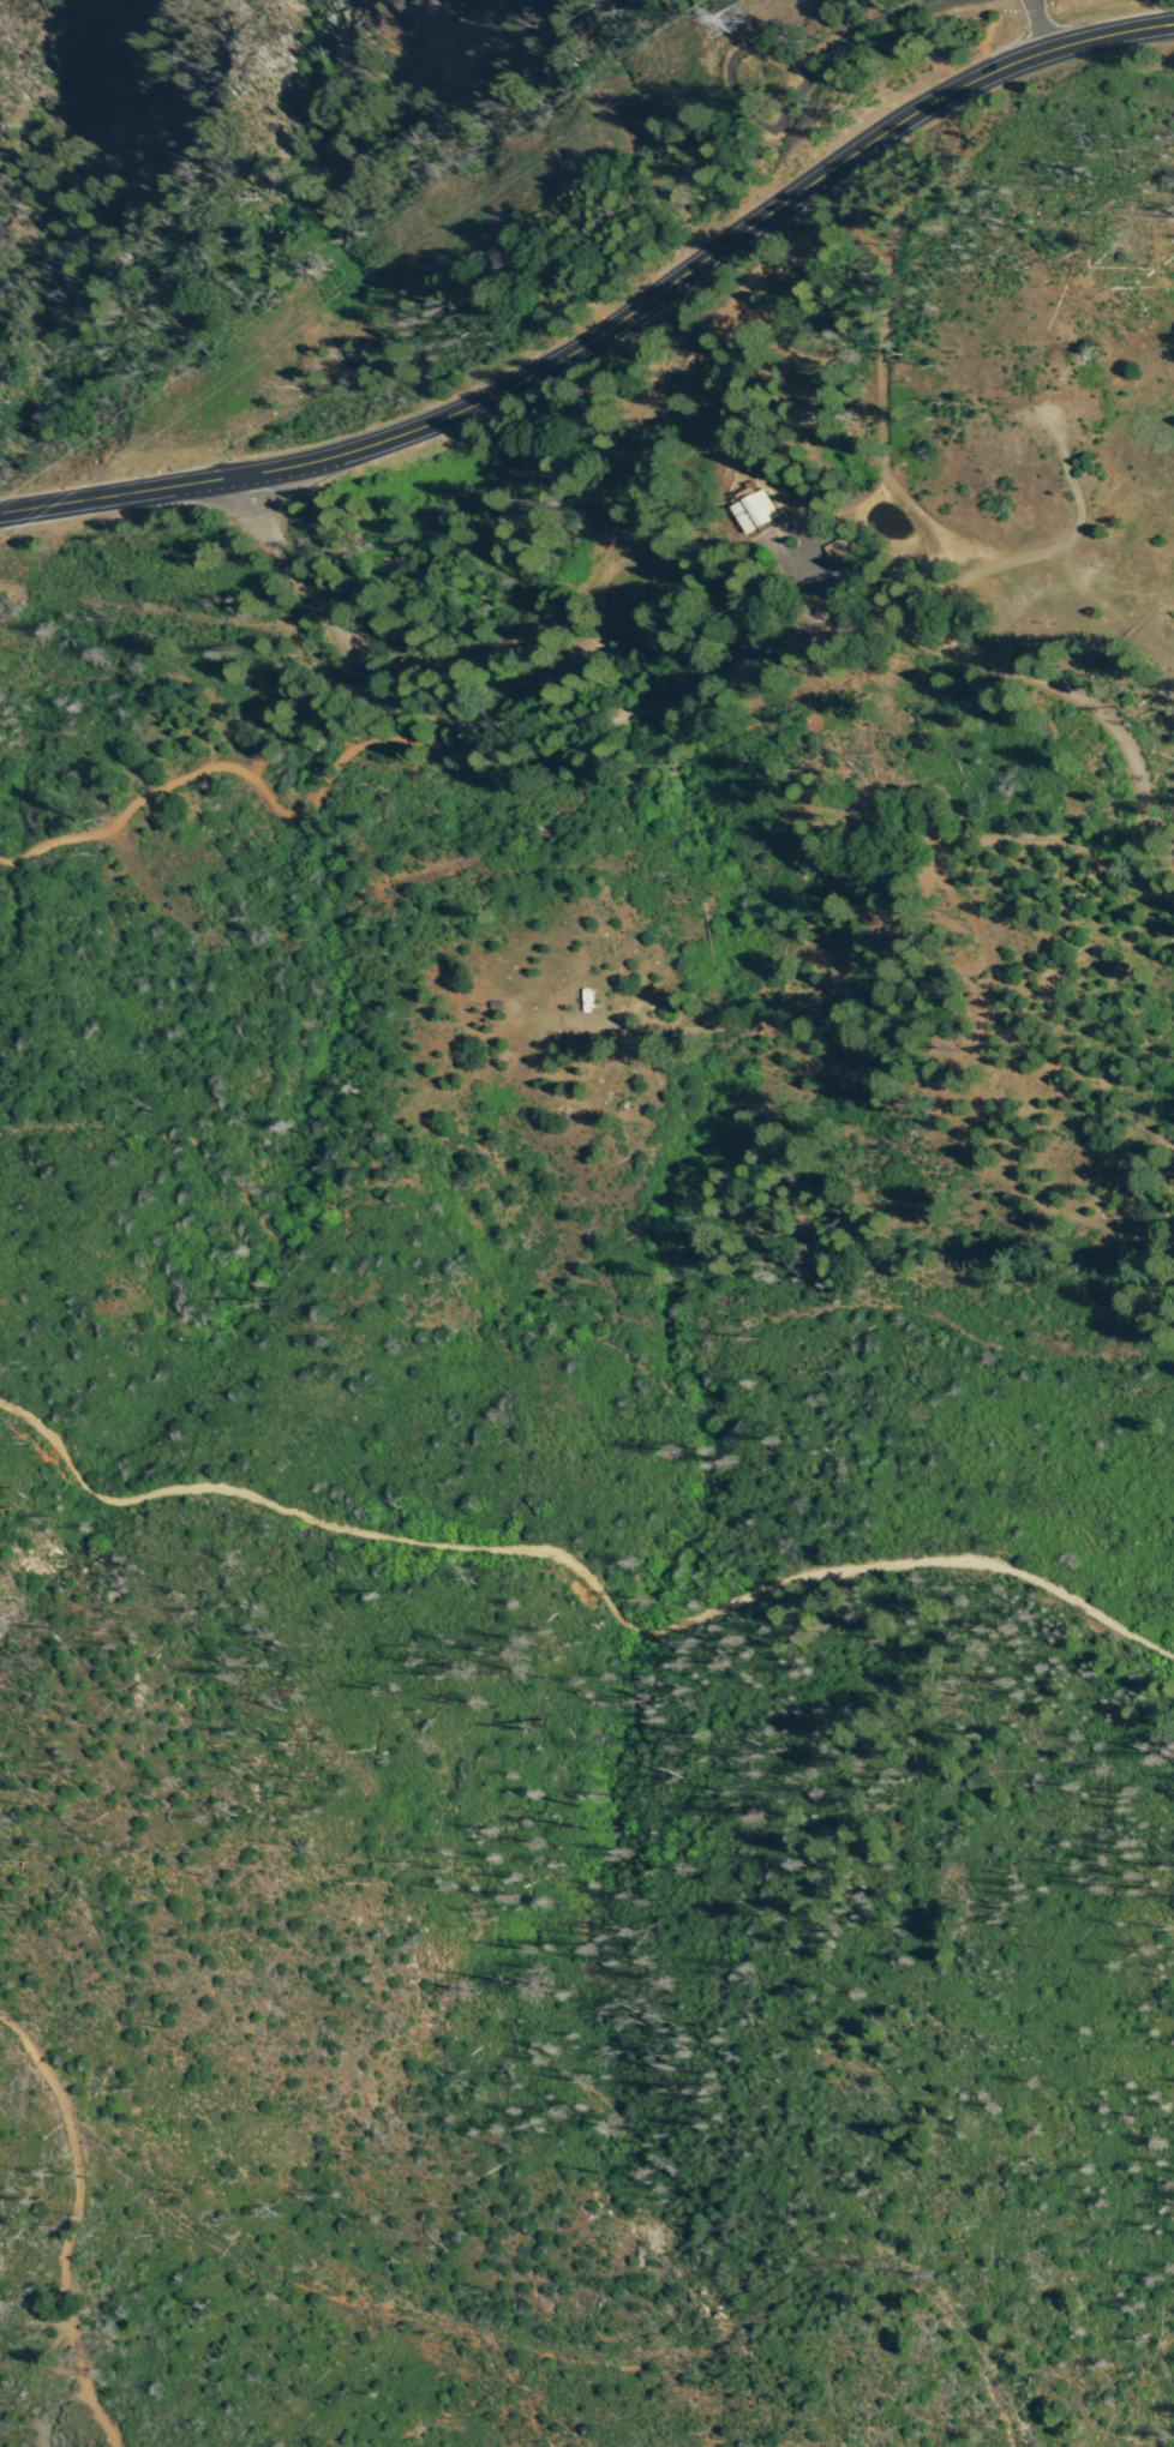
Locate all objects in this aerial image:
power tower: (724, 22)
road: (1016, 32)
road: (610, 334)
road: (634, 494)
road: (888, 502)
building: (756, 510)
building: (733, 512)
building: (837, 562)
building: (865, 562)
road: (299, 580)
road: (826, 660)
building: (558, 1000)
building: (498, 1007)
road: (586, 1569)

